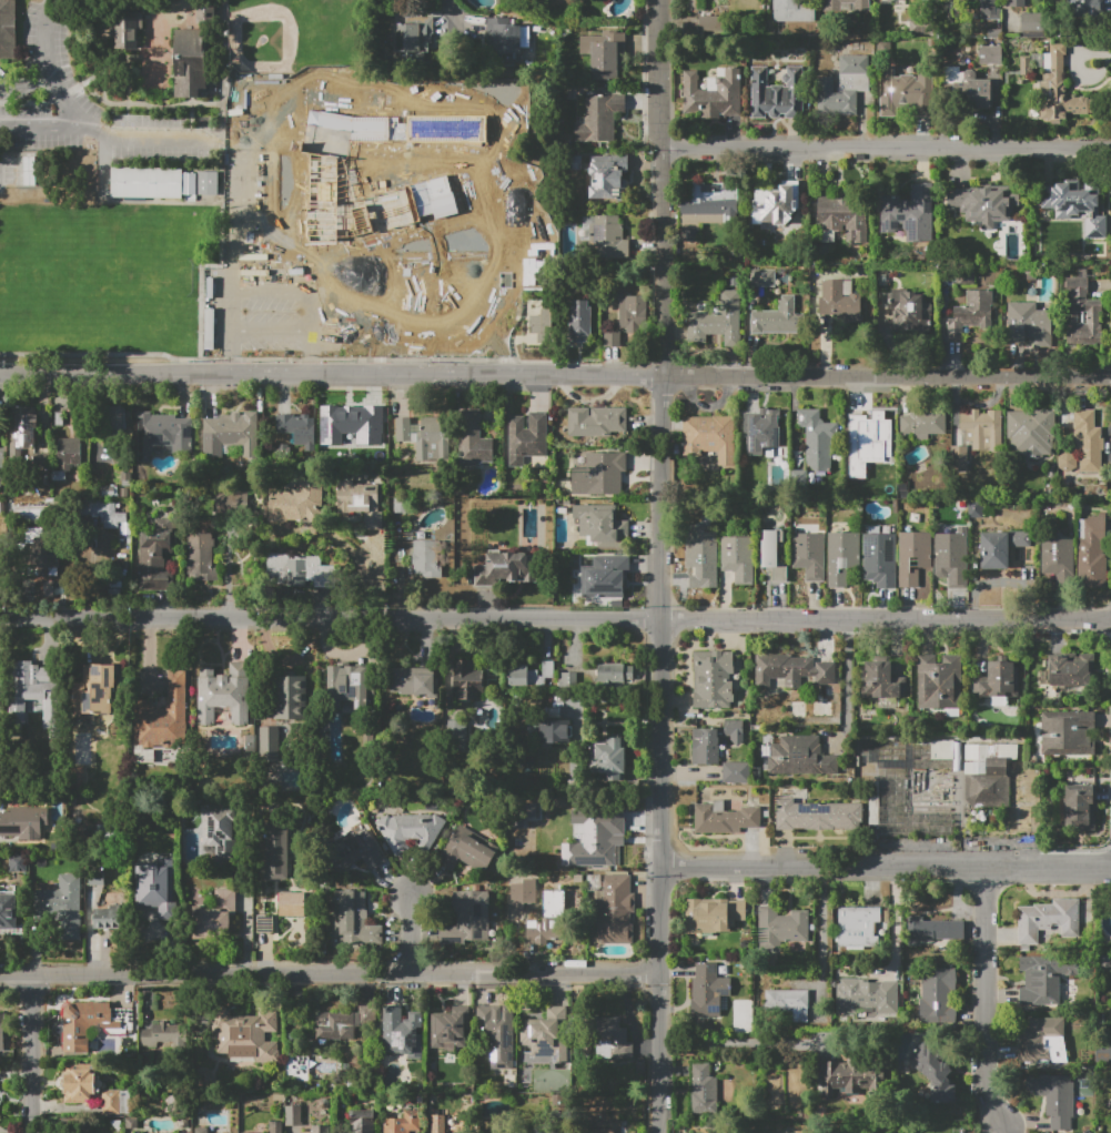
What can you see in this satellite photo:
building: (1017, 3)
building: (846, 6)
building: (1088, 8)
road: (450, 11)
building: (792, 11)
building: (987, 11)
building: (206, 13)
building: (704, 24)
building: (1031, 24)
building: (10, 30)
building: (124, 30)
building: (994, 33)
building: (410, 34)
park: (295, 37)
park: (299, 37)
road: (367, 39)
building: (506, 43)
building: (991, 54)
building: (600, 57)
building: (189, 62)
building: (1023, 64)
road: (49, 67)
road: (658, 73)
road: (299, 79)
road: (28, 84)
road: (390, 85)
building: (844, 85)
building: (968, 87)
building: (1059, 89)
building: (906, 91)
park: (339, 93)
building: (713, 93)
building: (777, 93)
road: (57, 95)
road: (476, 101)
road: (23, 102)
road: (194, 104)
parking lot: (79, 108)
building: (451, 115)
building: (599, 118)
road: (43, 123)
road: (151, 136)
road: (246, 144)
road: (885, 146)
road: (233, 154)
building: (440, 175)
building: (607, 176)
building: (325, 178)
road: (380, 179)
building: (147, 183)
building: (189, 183)
building: (208, 183)
building: (775, 203)
building: (984, 203)
building: (1074, 206)
building: (708, 208)
building: (909, 213)
building: (844, 215)
road: (467, 219)
building: (446, 235)
building: (606, 237)
road: (661, 263)
road: (246, 275)
building: (964, 275)
building: (761, 277)
road: (368, 280)
park: (98, 281)
parking lot: (337, 293)
building: (426, 293)
building: (839, 301)
building: (910, 310)
building: (632, 312)
building: (971, 314)
building: (1082, 315)
building: (778, 318)
building: (717, 321)
building: (579, 322)
building: (1029, 323)
building: (542, 326)
road: (368, 327)
road: (491, 327)
building: (612, 340)
road: (294, 376)
road: (625, 377)
road: (886, 381)
road: (708, 403)
building: (114, 419)
building: (596, 422)
building: (923, 423)
building: (346, 424)
building: (22, 426)
building: (297, 428)
building: (879, 431)
building: (1031, 432)
building: (161, 433)
building: (229, 433)
building: (766, 433)
building: (423, 434)
building: (976, 435)
building: (815, 436)
building: (710, 437)
building: (473, 438)
building: (527, 441)
building: (1087, 441)
building: (67, 452)
building: (1065, 462)
building: (854, 468)
building: (600, 475)
road: (659, 499)
building: (229, 502)
building: (295, 502)
building: (361, 504)
building: (26, 510)
building: (105, 514)
building: (600, 524)
building: (1002, 546)
building: (1092, 553)
building: (775, 555)
building: (154, 556)
building: (199, 556)
building: (810, 556)
building: (951, 556)
building: (704, 557)
building: (844, 557)
building: (913, 557)
building: (739, 558)
building: (427, 559)
building: (880, 559)
building: (1059, 559)
building: (46, 562)
building: (506, 569)
building: (301, 571)
building: (604, 574)
road: (330, 621)
road: (885, 621)
building: (792, 669)
building: (1071, 669)
building: (610, 672)
building: (529, 675)
building: (566, 679)
building: (467, 680)
building: (713, 680)
building: (413, 681)
building: (880, 681)
building: (999, 681)
building: (940, 682)
road: (846, 686)
building: (346, 688)
building: (94, 690)
building: (36, 692)
building: (223, 694)
building: (290, 697)
building: (811, 709)
building: (163, 716)
building: (736, 731)
building: (555, 732)
building: (456, 734)
building: (1069, 734)
building: (269, 743)
road: (659, 745)
building: (706, 748)
building: (870, 750)
building: (608, 757)
building: (800, 757)
building: (737, 772)
building: (988, 775)
building: (77, 780)
building: (1078, 803)
building: (817, 816)
building: (907, 816)
building: (725, 818)
building: (542, 821)
building: (24, 822)
building: (410, 830)
building: (219, 834)
building: (594, 837)
building: (562, 842)
building: (354, 849)
building: (467, 850)
building: (276, 852)
road: (885, 867)
building: (156, 887)
building: (90, 898)
building: (292, 904)
building: (62, 906)
building: (615, 910)
building: (8, 911)
building: (713, 914)
building: (216, 917)
building: (468, 917)
building: (107, 918)
building: (351, 918)
building: (551, 918)
building: (1048, 920)
road: (246, 923)
building: (857, 925)
building: (781, 927)
building: (933, 930)
road: (896, 931)
road: (412, 934)
road: (824, 937)
road: (330, 972)
building: (1042, 979)
building: (708, 990)
building: (937, 994)
building: (867, 997)
road: (992, 998)
road: (660, 999)
building: (788, 1002)
building: (85, 1024)
building: (347, 1025)
building: (450, 1028)
building: (1, 1031)
building: (159, 1033)
building: (402, 1033)
building: (246, 1035)
building: (498, 1035)
building: (546, 1035)
building: (1039, 1039)
building: (612, 1040)
road: (746, 1043)
road: (32, 1053)
building: (639, 1066)
building: (935, 1071)
building: (841, 1078)
building: (81, 1082)
building: (703, 1089)
building: (1054, 1097)
building: (115, 1102)
building: (356, 1121)
building: (403, 1123)
building: (437, 1123)
building: (275, 1127)
building: (319, 1129)
building: (201, 1130)
building: (600, 1131)
building: (246, 1132)
building: (543, 1132)

